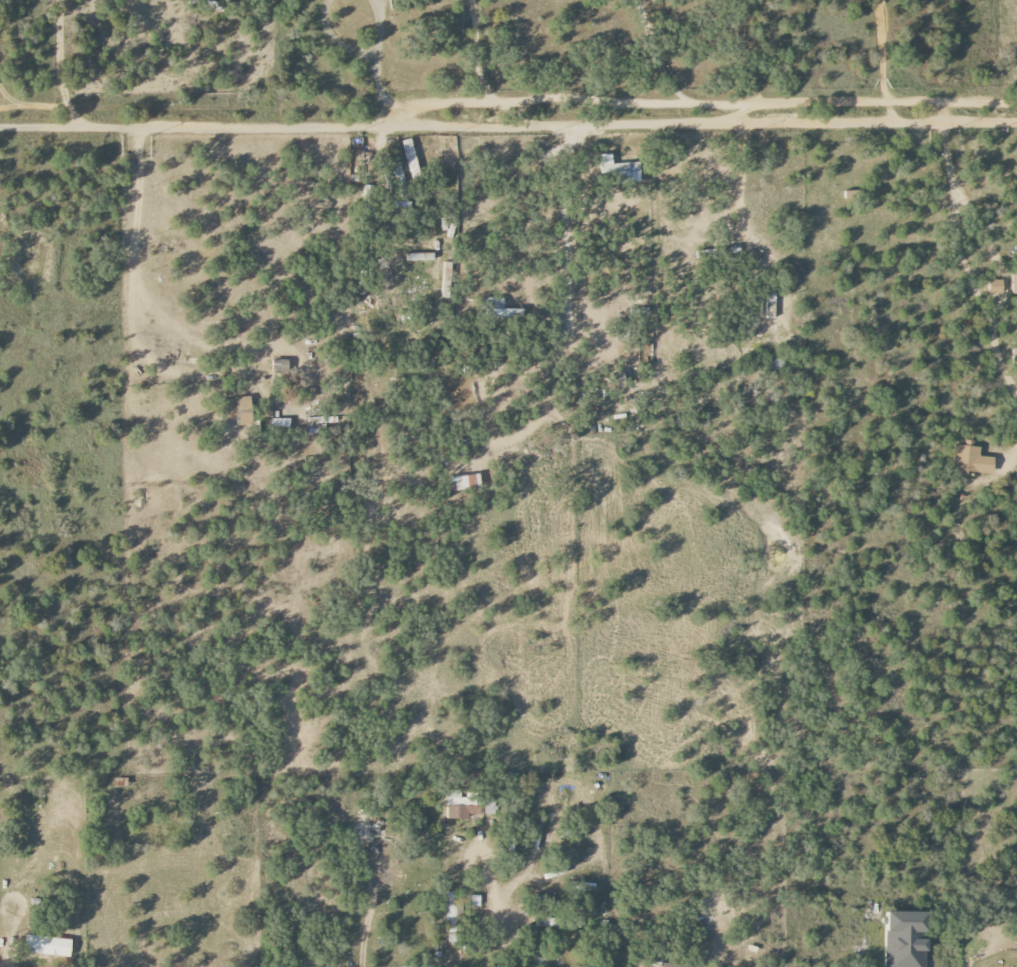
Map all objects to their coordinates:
building: (206, 4)
road: (378, 29)
road: (334, 40)
road: (880, 51)
road: (478, 52)
road: (651, 54)
road: (54, 66)
road: (378, 92)
road: (702, 103)
road: (507, 126)
building: (409, 156)
building: (445, 161)
building: (623, 172)
road: (132, 244)
building: (708, 254)
building: (419, 257)
building: (1014, 284)
building: (995, 286)
building: (770, 305)
building: (500, 309)
building: (1014, 359)
building: (279, 366)
building: (618, 376)
building: (236, 410)
building: (279, 423)
building: (317, 424)
building: (971, 460)
building: (468, 805)
road: (495, 897)
building: (473, 900)
building: (450, 912)
building: (905, 939)
building: (48, 945)
road: (999, 958)
road: (721, 959)
road: (6, 960)
building: (673, 965)

